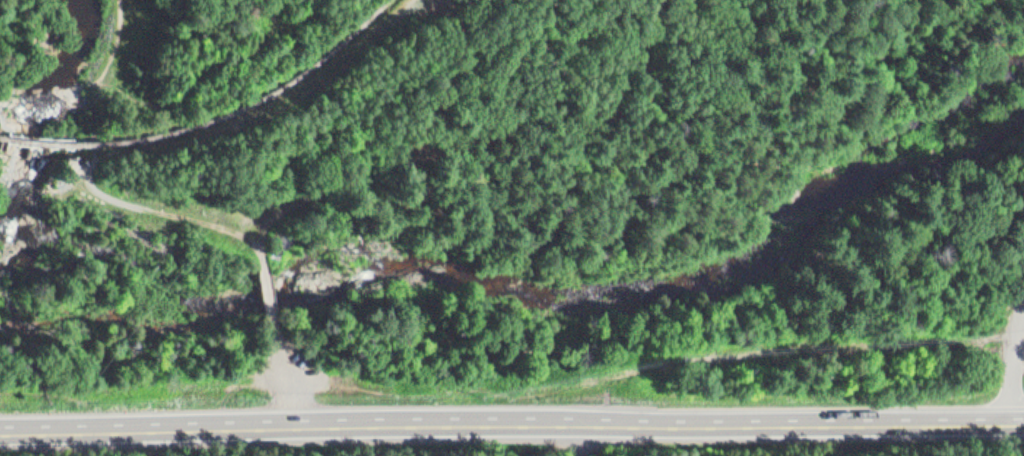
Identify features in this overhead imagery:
road: (198, 77)
road: (14, 82)
road: (264, 110)
road: (476, 139)
road: (117, 196)
road: (169, 211)
river: (238, 279)
road: (265, 294)
road: (1020, 324)
road: (535, 343)
road: (296, 346)
parking lot: (283, 371)
road: (1017, 377)
road: (282, 379)
road: (1020, 419)
road: (508, 420)

